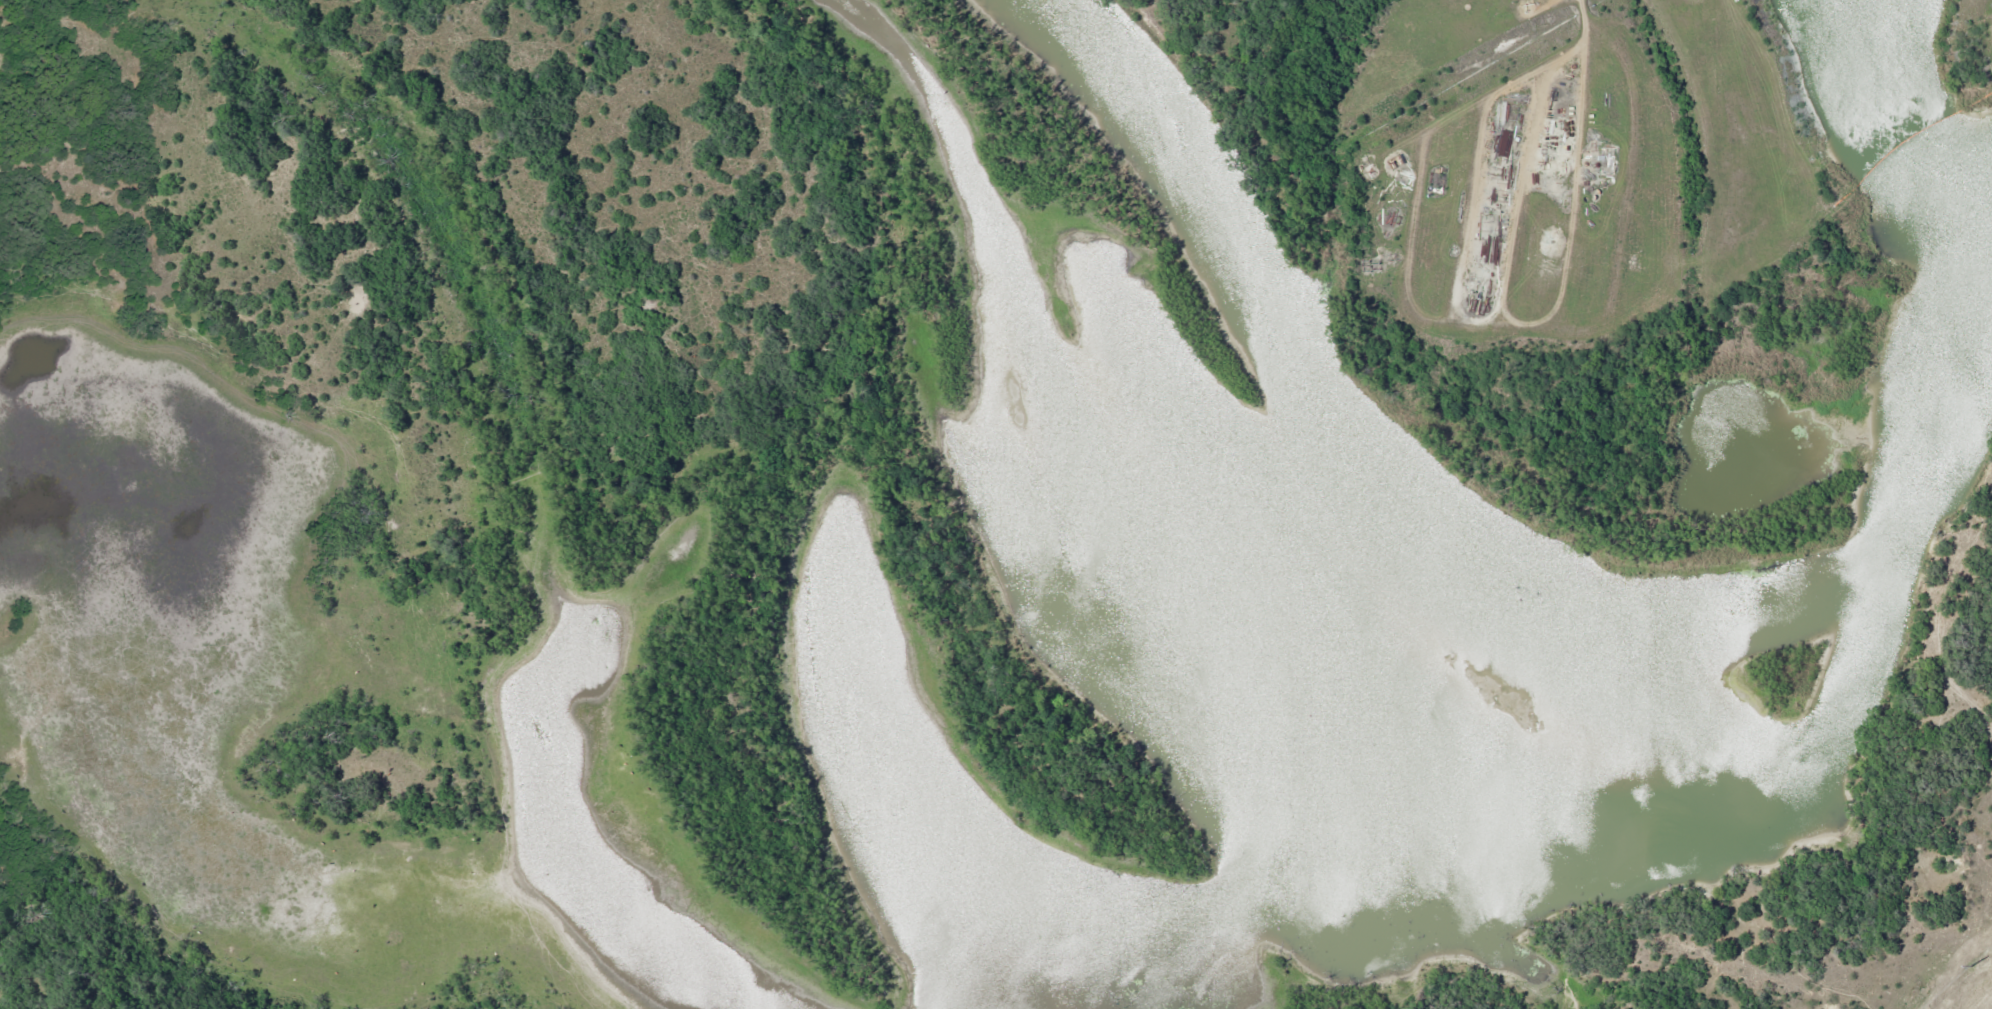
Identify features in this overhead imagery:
power plant: (1969, 48)
power plant: (1533, 204)

